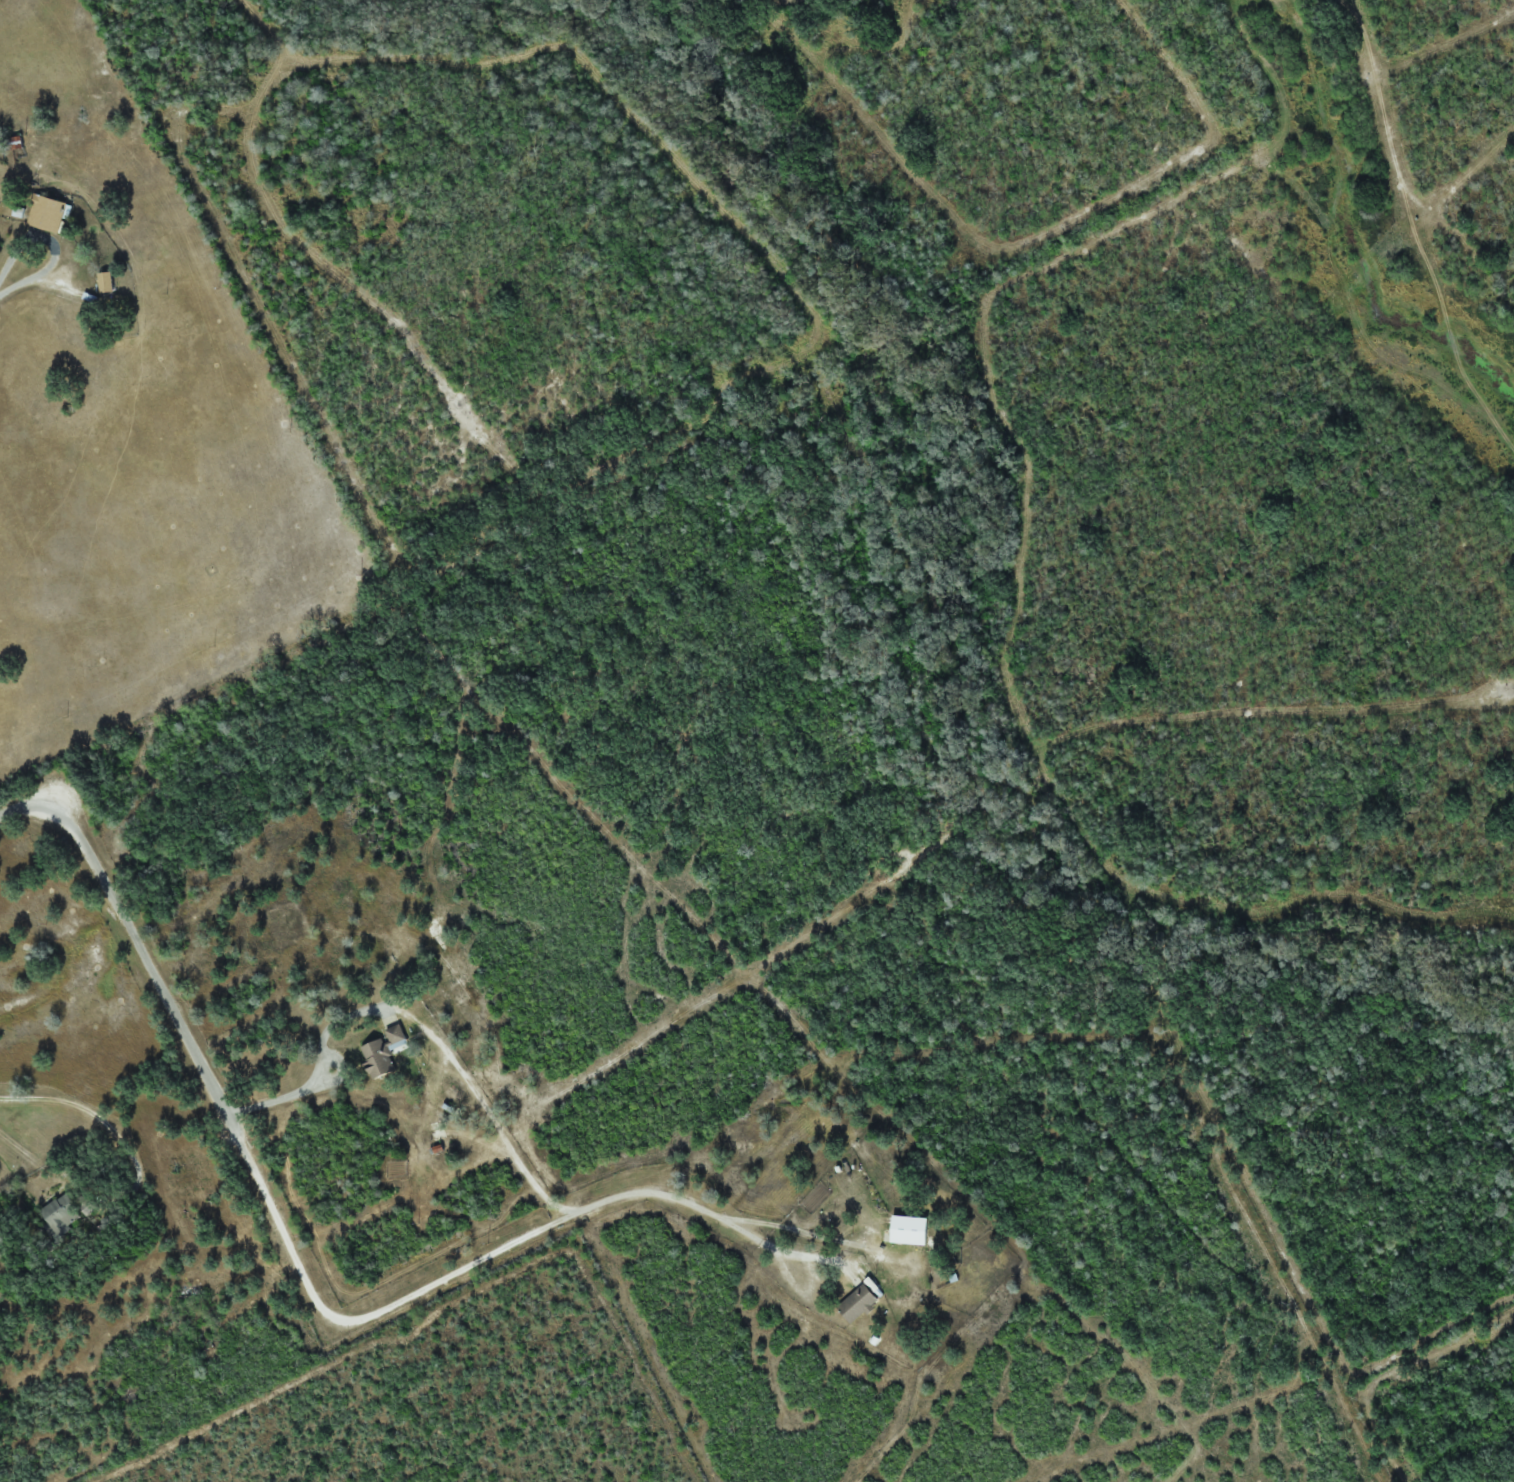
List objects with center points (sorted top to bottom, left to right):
building: (46, 213)
road: (14, 242)
building: (105, 282)
building: (382, 1052)
road: (73, 1111)
road: (46, 1160)
building: (60, 1212)
building: (908, 1230)
building: (857, 1304)
road: (1381, 1440)

